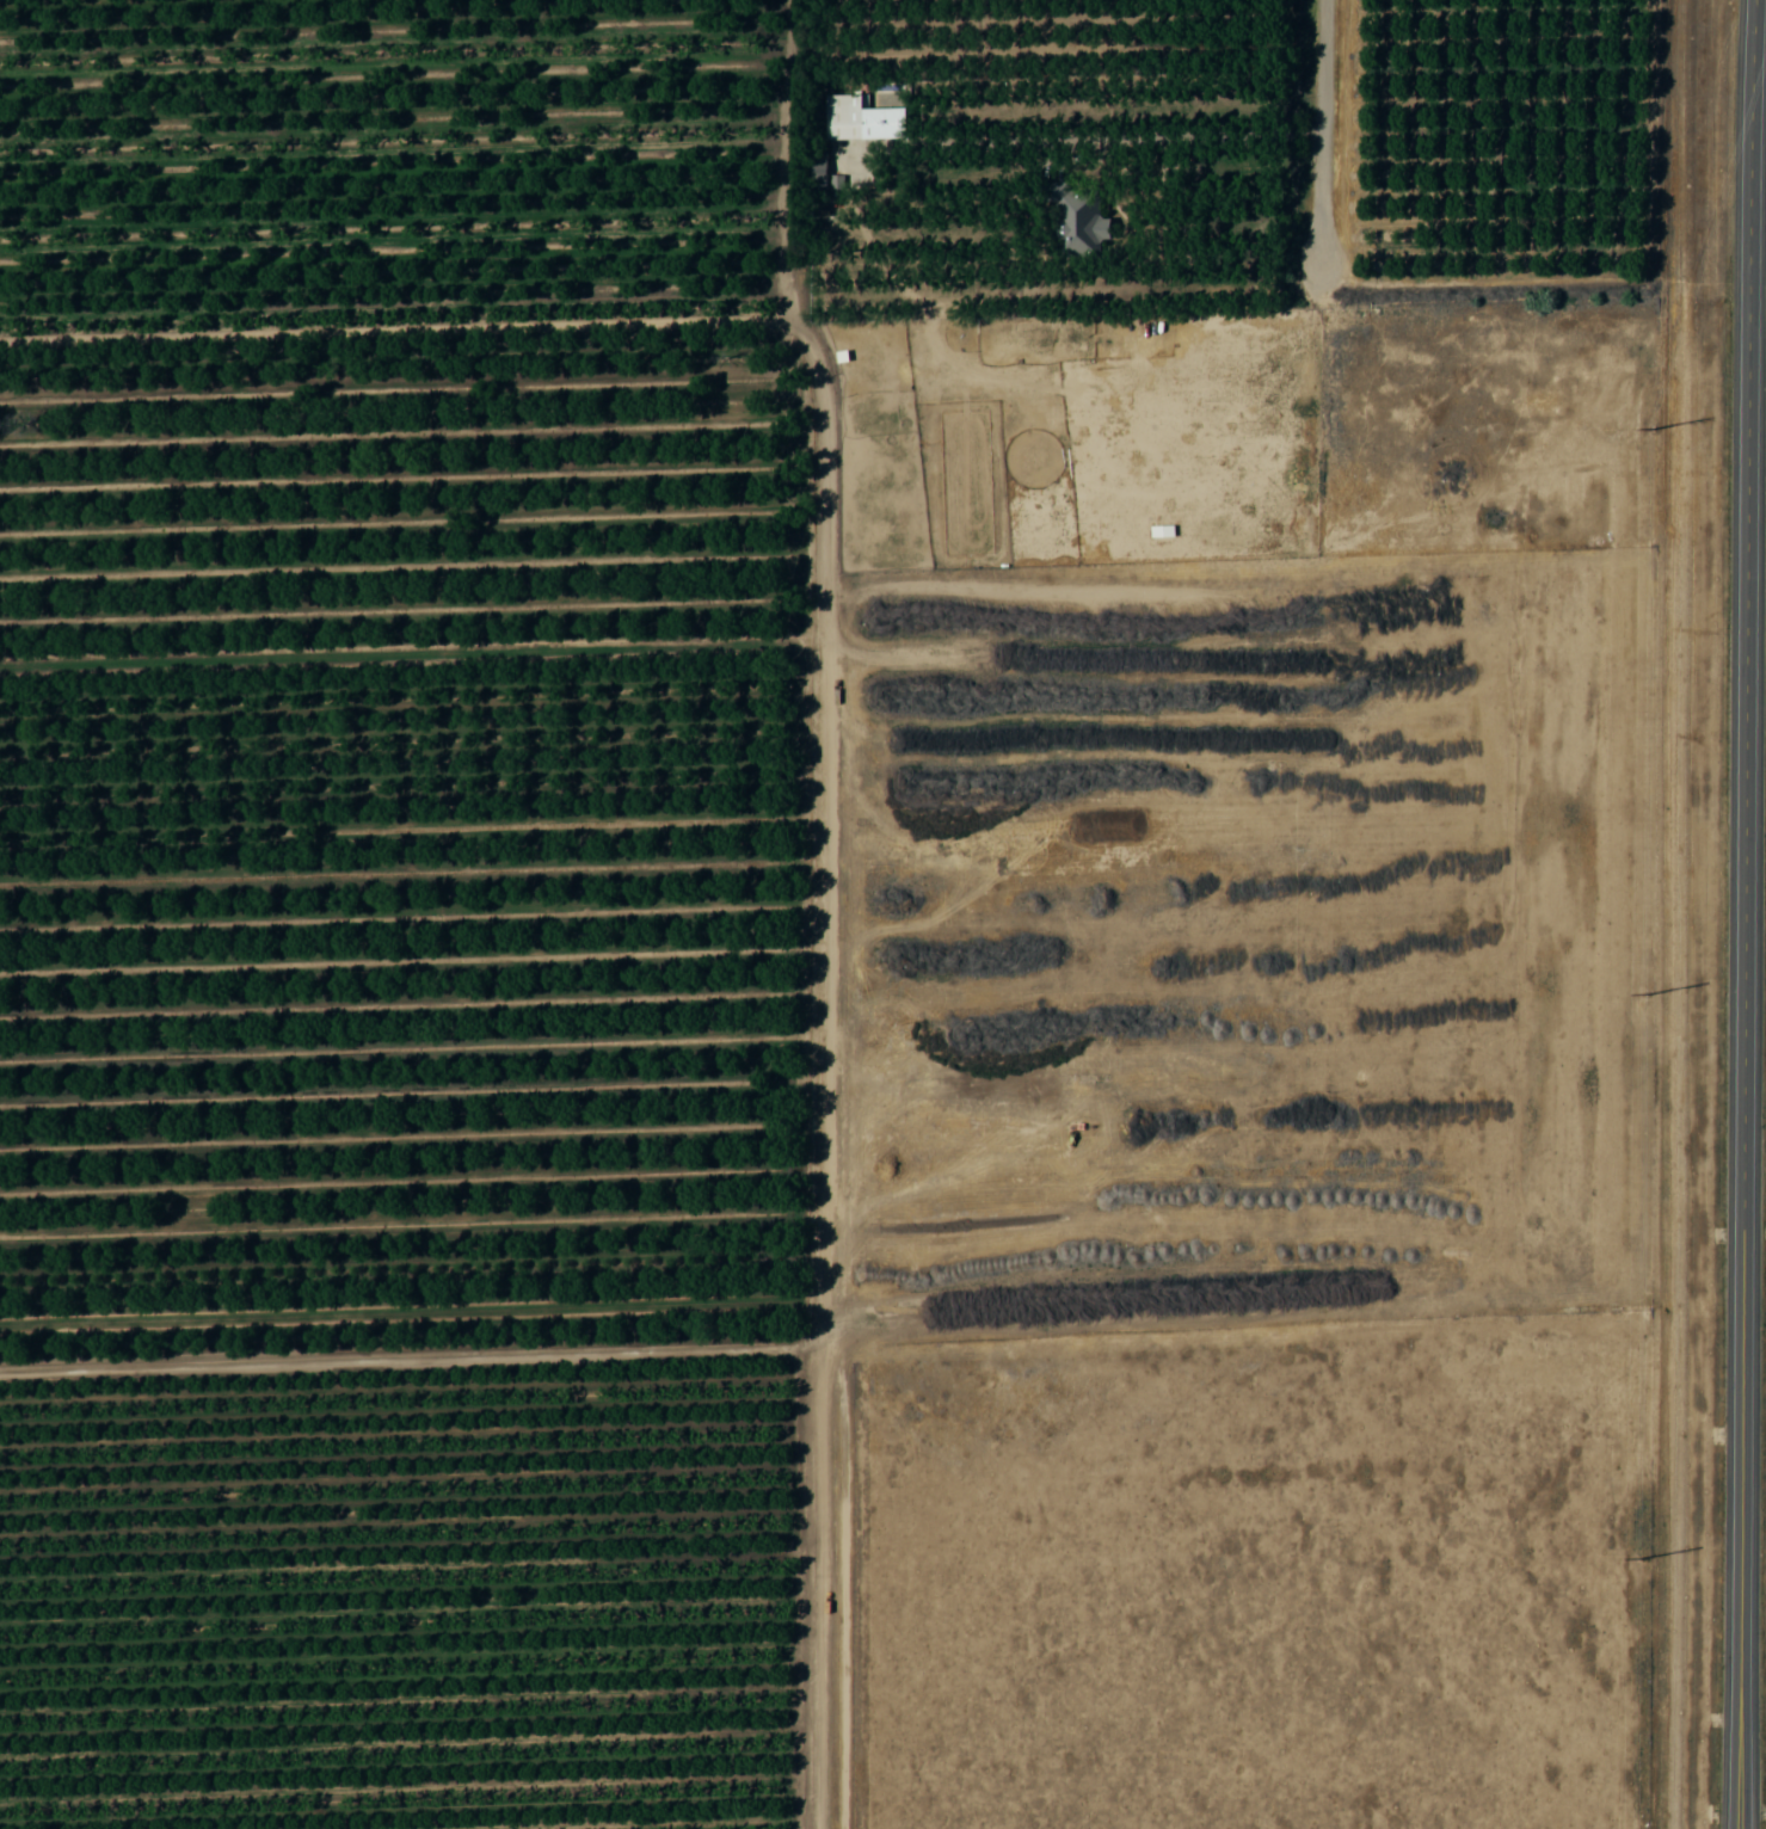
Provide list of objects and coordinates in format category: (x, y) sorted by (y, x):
building: (860, 119)
road: (1324, 140)
building: (1072, 218)
road: (1747, 458)
road: (826, 910)
road: (1741, 1373)

